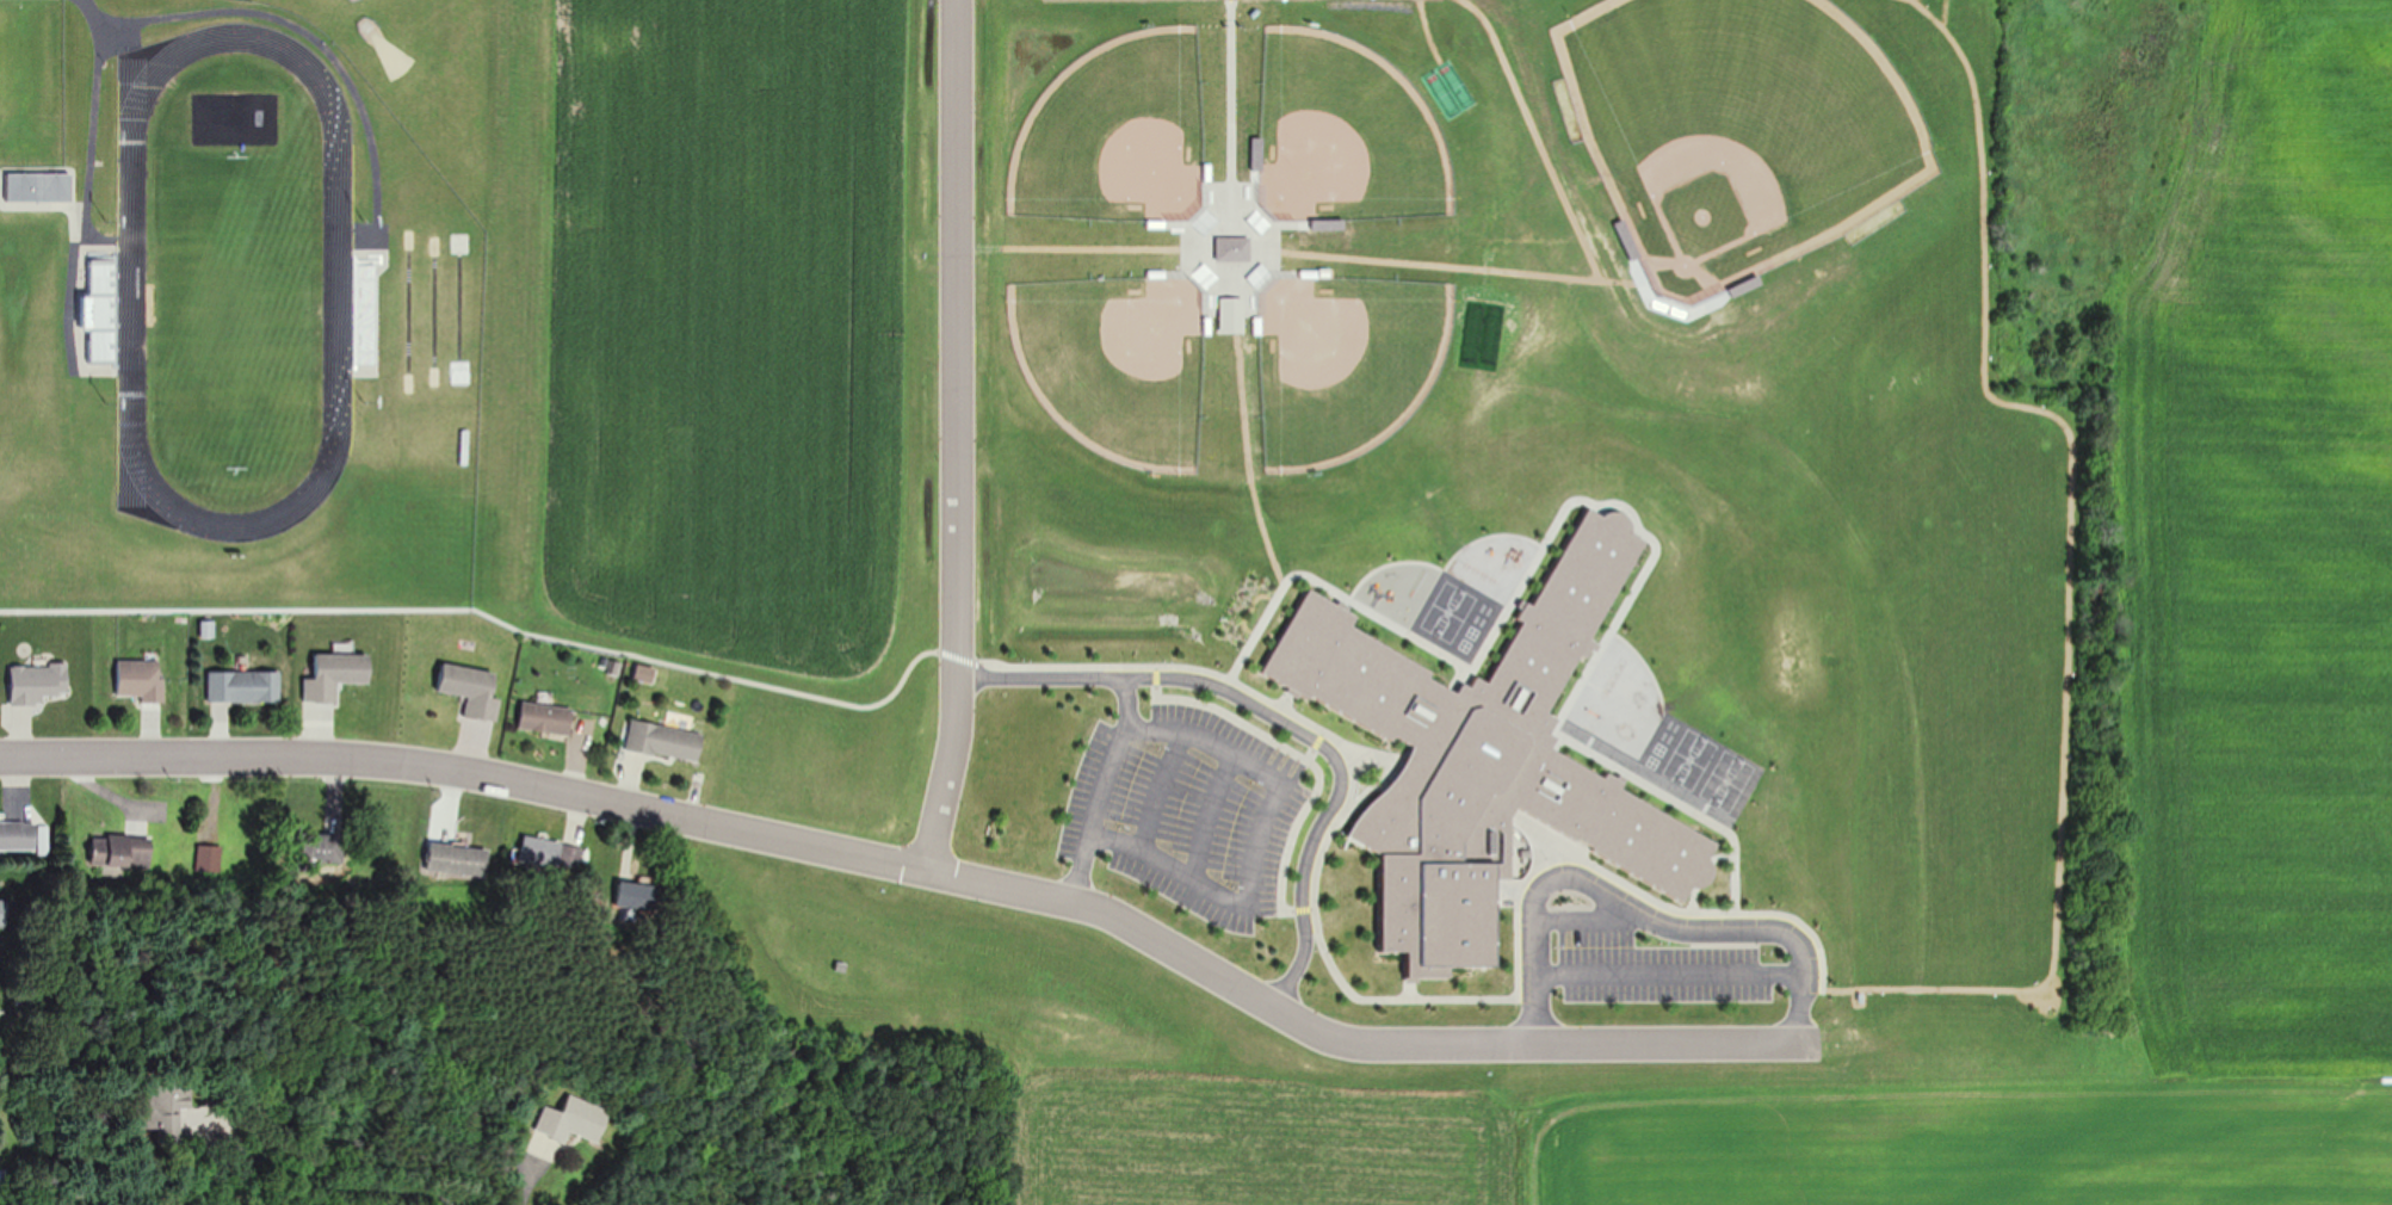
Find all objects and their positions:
road: (957, 432)
building: (338, 674)
building: (143, 679)
building: (39, 682)
building: (246, 685)
building: (474, 687)
road: (1281, 716)
building: (548, 717)
building: (666, 739)
road: (468, 772)
road: (1100, 786)
road: (1160, 791)
road: (1207, 811)
building: (18, 834)
road: (1260, 840)
building: (329, 847)
building: (122, 848)
building: (552, 853)
building: (458, 855)
building: (636, 894)
road: (1636, 914)
road: (1587, 915)
road: (1667, 971)
road: (1345, 1033)
building: (174, 1108)
building: (576, 1119)
road: (526, 1178)

